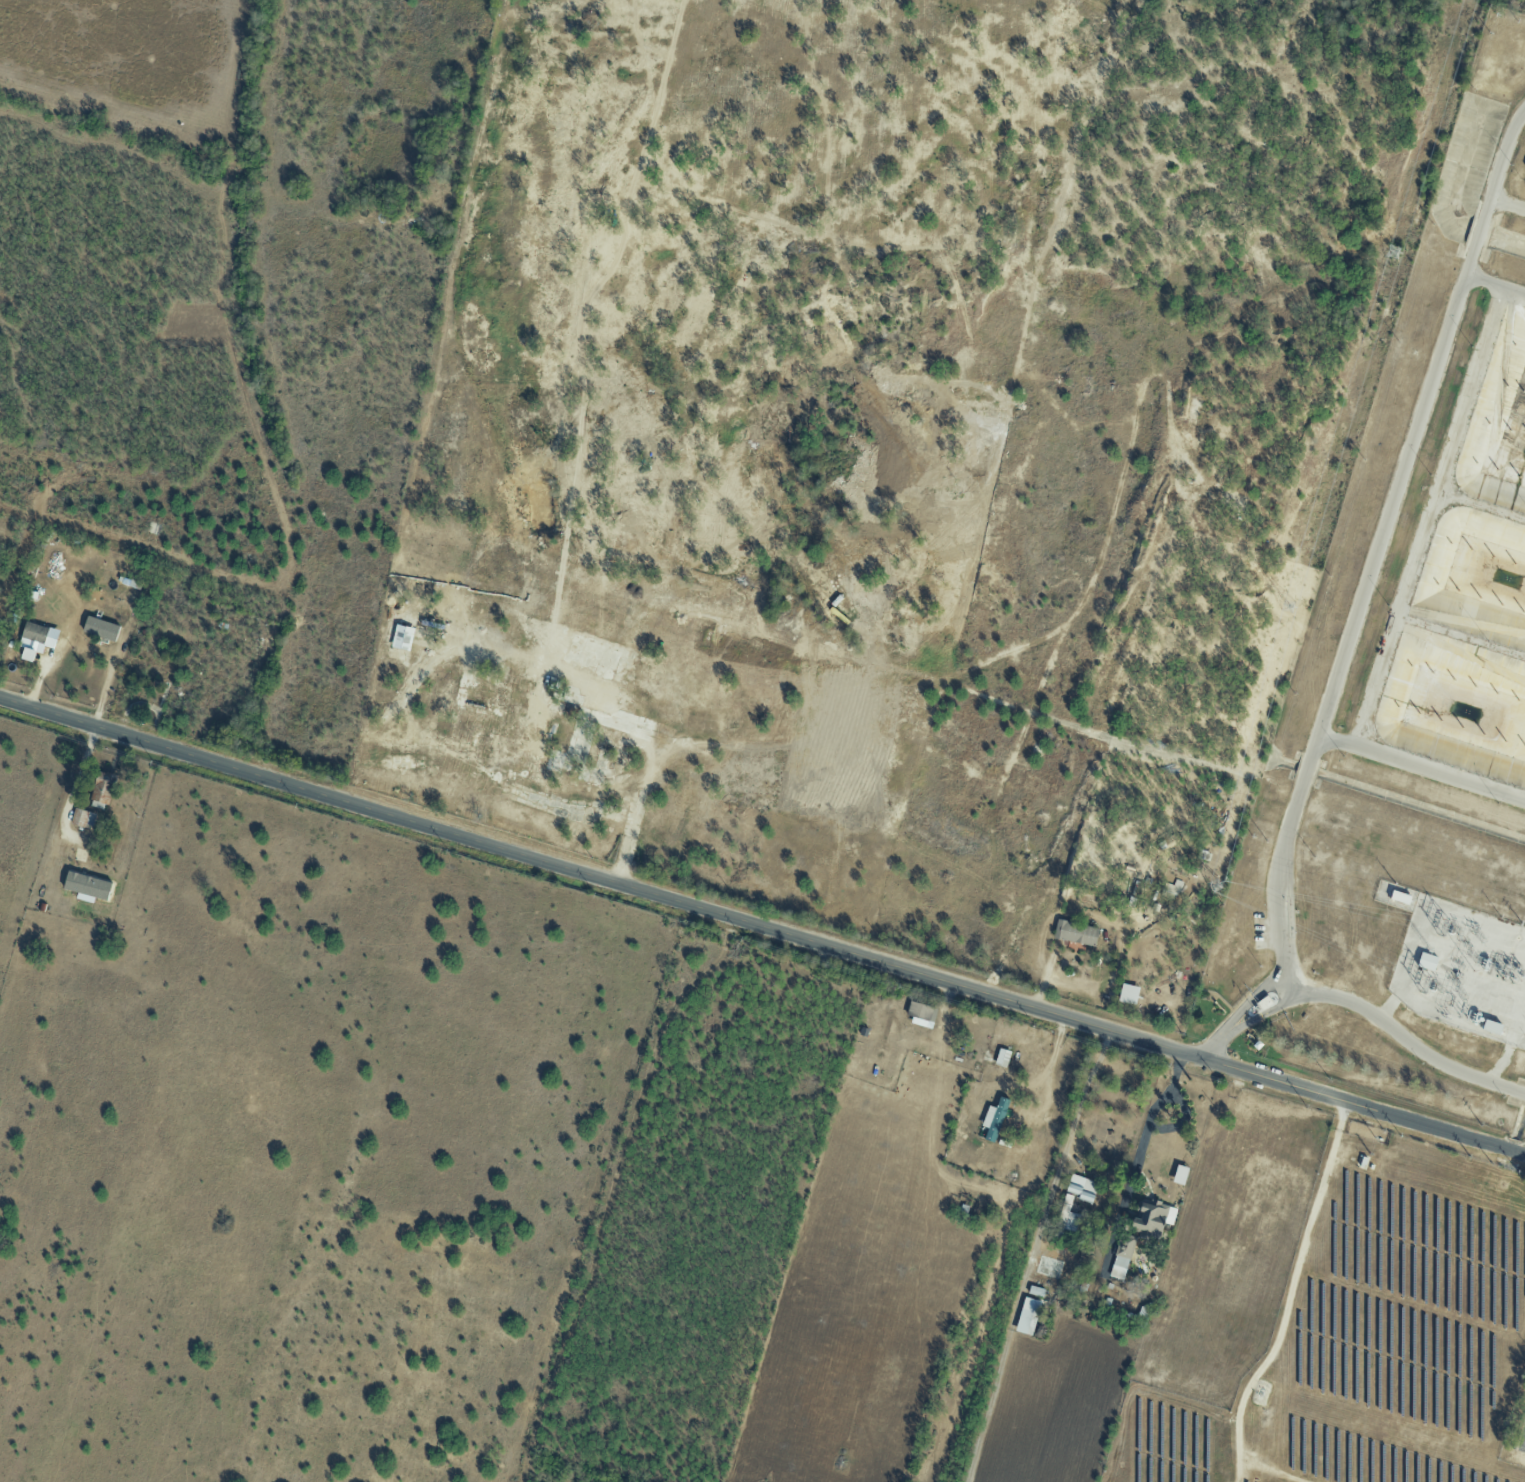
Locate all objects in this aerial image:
road: (1506, 203)
power tower: (1393, 252)
road: (1493, 285)
road: (1428, 517)
power tower: (1289, 609)
building: (100, 629)
building: (39, 634)
building: (28, 655)
road: (1338, 667)
road: (106, 683)
wastewater plant: (1412, 688)
road: (838, 715)
road: (1421, 767)
road: (77, 775)
building: (102, 788)
building: (83, 818)
power tower: (1213, 885)
building: (87, 887)
building: (1171, 889)
building: (1399, 896)
road: (762, 926)
building: (1075, 932)
building: (1425, 960)
power substation: (1459, 966)
building: (1128, 994)
road: (1248, 1001)
building: (1266, 1002)
building: (1494, 1002)
road: (1386, 1006)
building: (921, 1011)
road: (1260, 1016)
building: (1497, 1028)
road: (1208, 1047)
building: (1002, 1057)
road: (1500, 1064)
building: (994, 1118)
road: (1065, 1143)
road: (1136, 1158)
building: (1180, 1175)
building: (1081, 1187)
building: (1067, 1213)
building: (1150, 1217)
building: (1122, 1257)
building: (1027, 1316)
solar farm: (1365, 1334)
road: (1492, 1421)
wastewater plant: (1516, 1433)
road: (1524, 1443)

